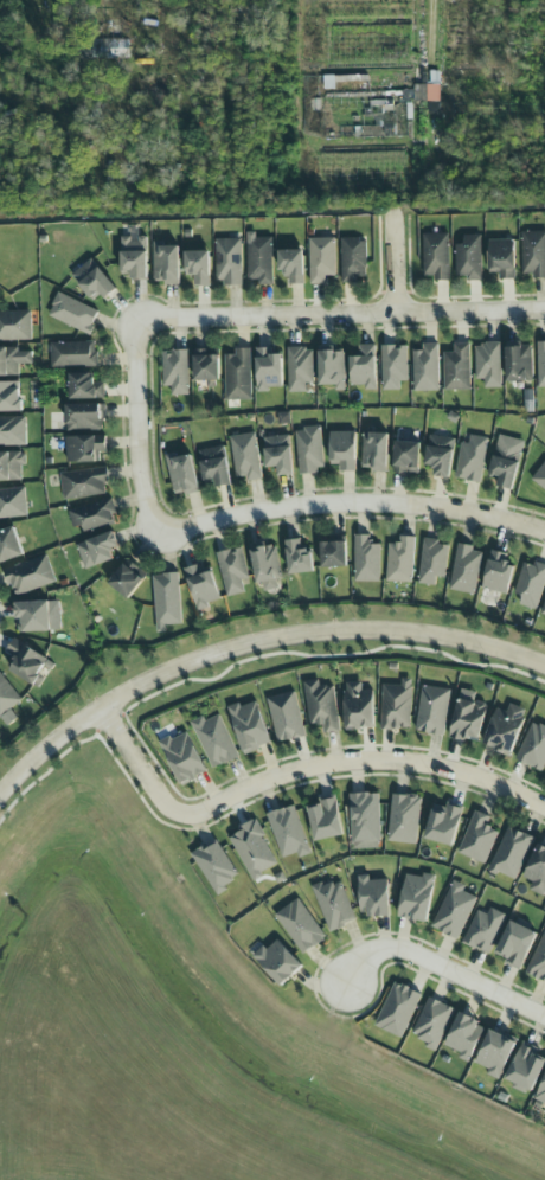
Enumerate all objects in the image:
road: (293, 20)
building: (103, 49)
building: (427, 92)
building: (532, 254)
building: (435, 256)
building: (468, 257)
building: (501, 257)
building: (321, 259)
building: (353, 259)
building: (259, 261)
road: (396, 261)
building: (227, 262)
building: (166, 263)
building: (291, 265)
building: (198, 267)
building: (92, 281)
building: (72, 313)
road: (345, 313)
building: (15, 325)
building: (72, 353)
building: (13, 360)
building: (206, 364)
building: (518, 364)
building: (540, 364)
building: (488, 365)
building: (392, 366)
building: (364, 367)
building: (425, 367)
building: (456, 367)
building: (268, 368)
building: (299, 368)
building: (332, 368)
building: (175, 371)
building: (238, 374)
building: (85, 386)
building: (9, 396)
building: (84, 416)
road: (139, 425)
building: (13, 431)
building: (84, 448)
building: (308, 449)
building: (341, 450)
building: (374, 451)
building: (278, 454)
building: (440, 455)
building: (245, 456)
building: (405, 456)
building: (470, 458)
building: (506, 460)
building: (12, 466)
building: (214, 466)
building: (181, 474)
building: (539, 475)
building: (84, 482)
building: (12, 502)
road: (352, 504)
building: (92, 515)
building: (9, 544)
building: (97, 550)
building: (333, 552)
building: (299, 557)
building: (365, 559)
building: (399, 560)
building: (432, 560)
building: (267, 567)
building: (466, 569)
building: (232, 570)
building: (498, 572)
building: (30, 575)
building: (127, 578)
building: (530, 584)
building: (201, 585)
building: (166, 599)
building: (544, 611)
building: (33, 616)
road: (251, 642)
building: (27, 662)
building: (6, 695)
building: (396, 705)
building: (321, 706)
building: (358, 706)
building: (432, 710)
building: (286, 717)
building: (468, 717)
building: (249, 725)
building: (505, 729)
building: (214, 740)
building: (533, 746)
building: (184, 757)
road: (297, 770)
building: (404, 819)
building: (325, 820)
building: (365, 821)
building: (443, 825)
building: (289, 833)
building: (479, 838)
building: (254, 849)
building: (511, 854)
building: (214, 866)
building: (537, 870)
building: (373, 897)
building: (416, 897)
building: (334, 904)
building: (454, 911)
building: (300, 926)
building: (485, 930)
building: (515, 944)
building: (277, 962)
building: (538, 962)
road: (445, 966)
building: (398, 1009)
building: (432, 1024)
building: (464, 1037)
building: (495, 1053)
building: (526, 1069)
building: (540, 1095)

